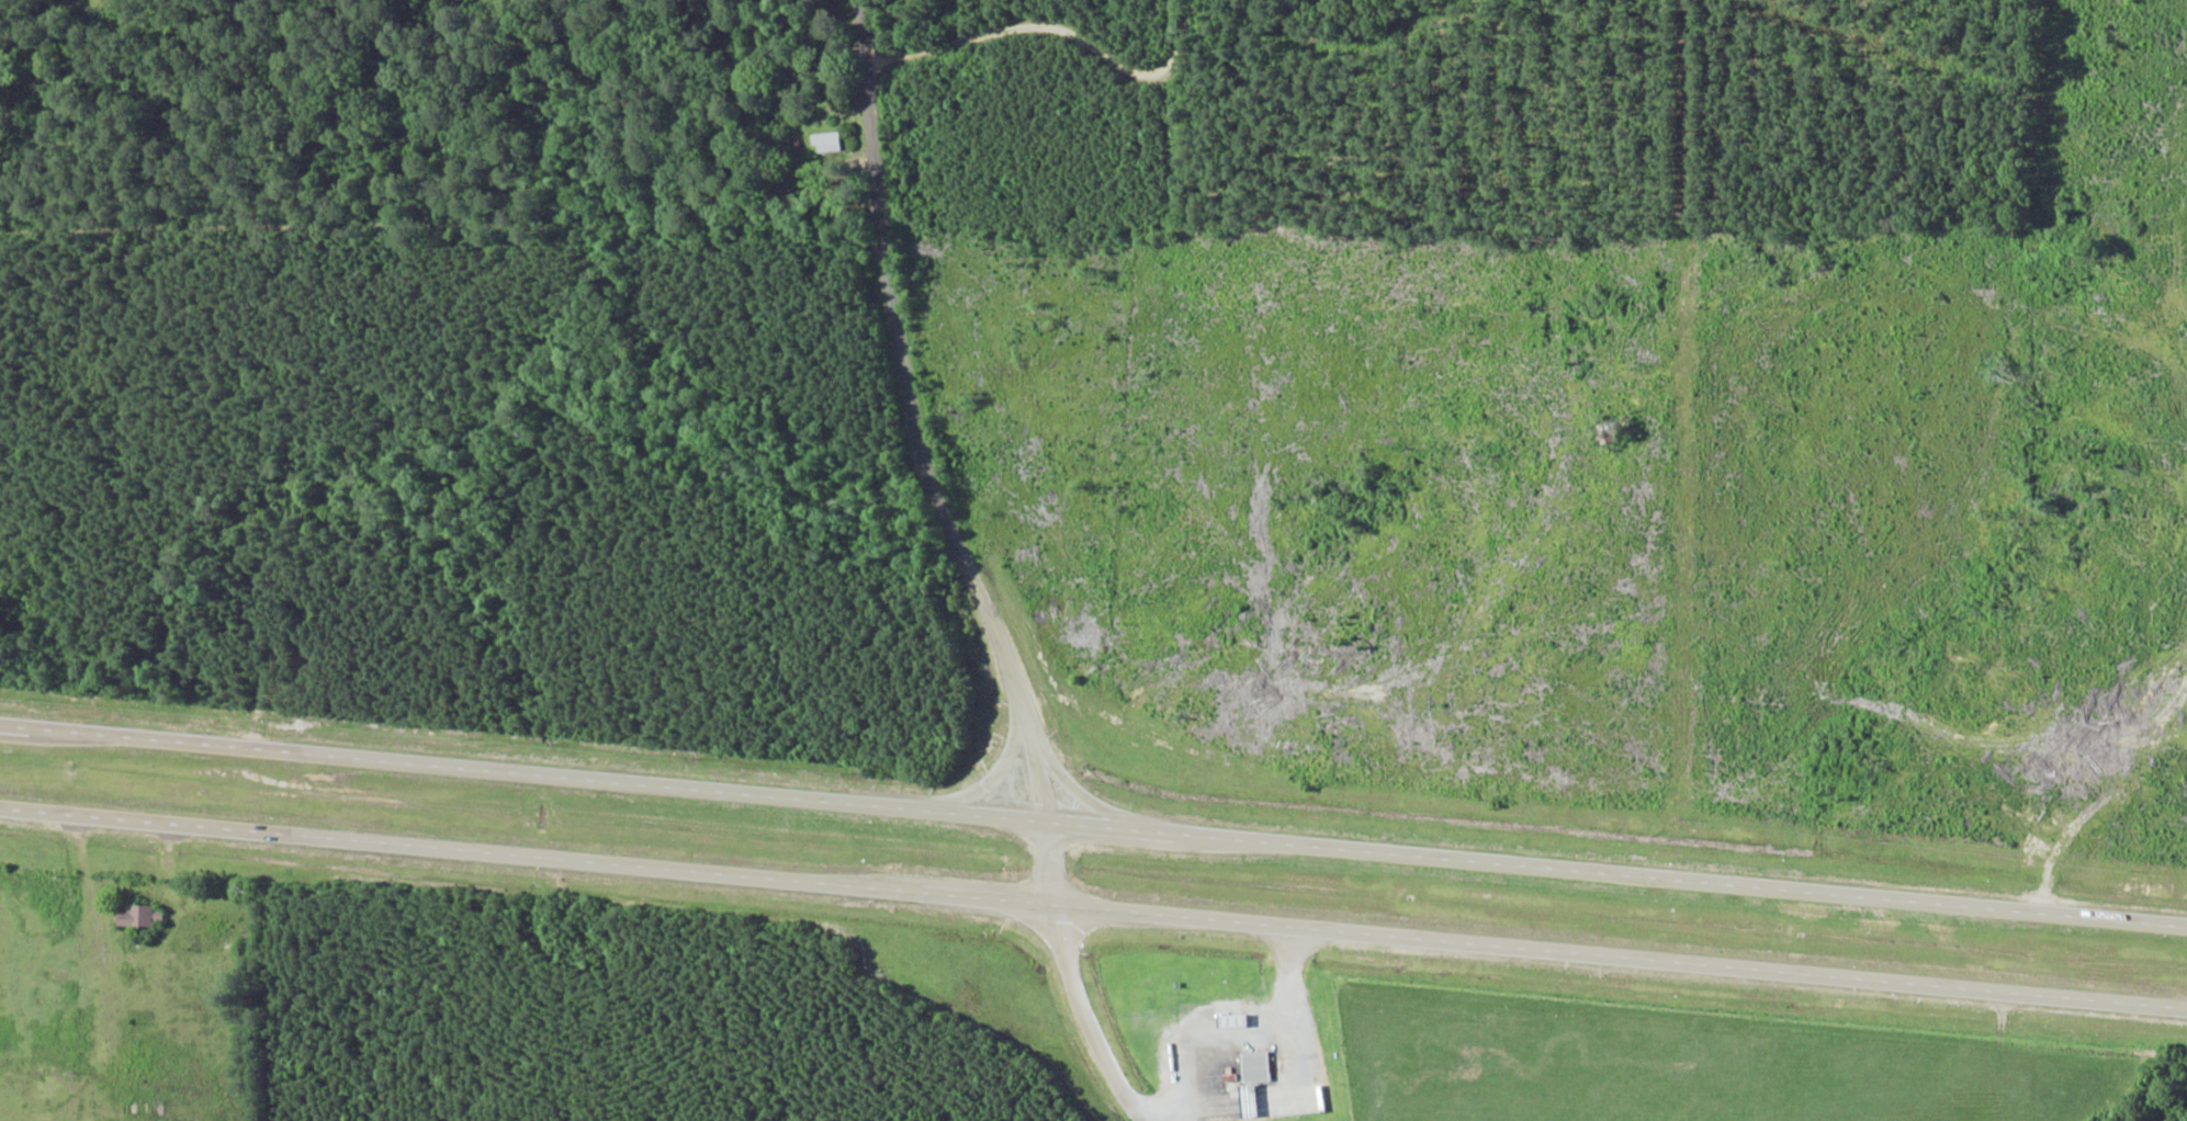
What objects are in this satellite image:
road: (1063, 34)
building: (825, 141)
road: (967, 569)
road: (1093, 826)
road: (1093, 908)
building: (136, 916)

